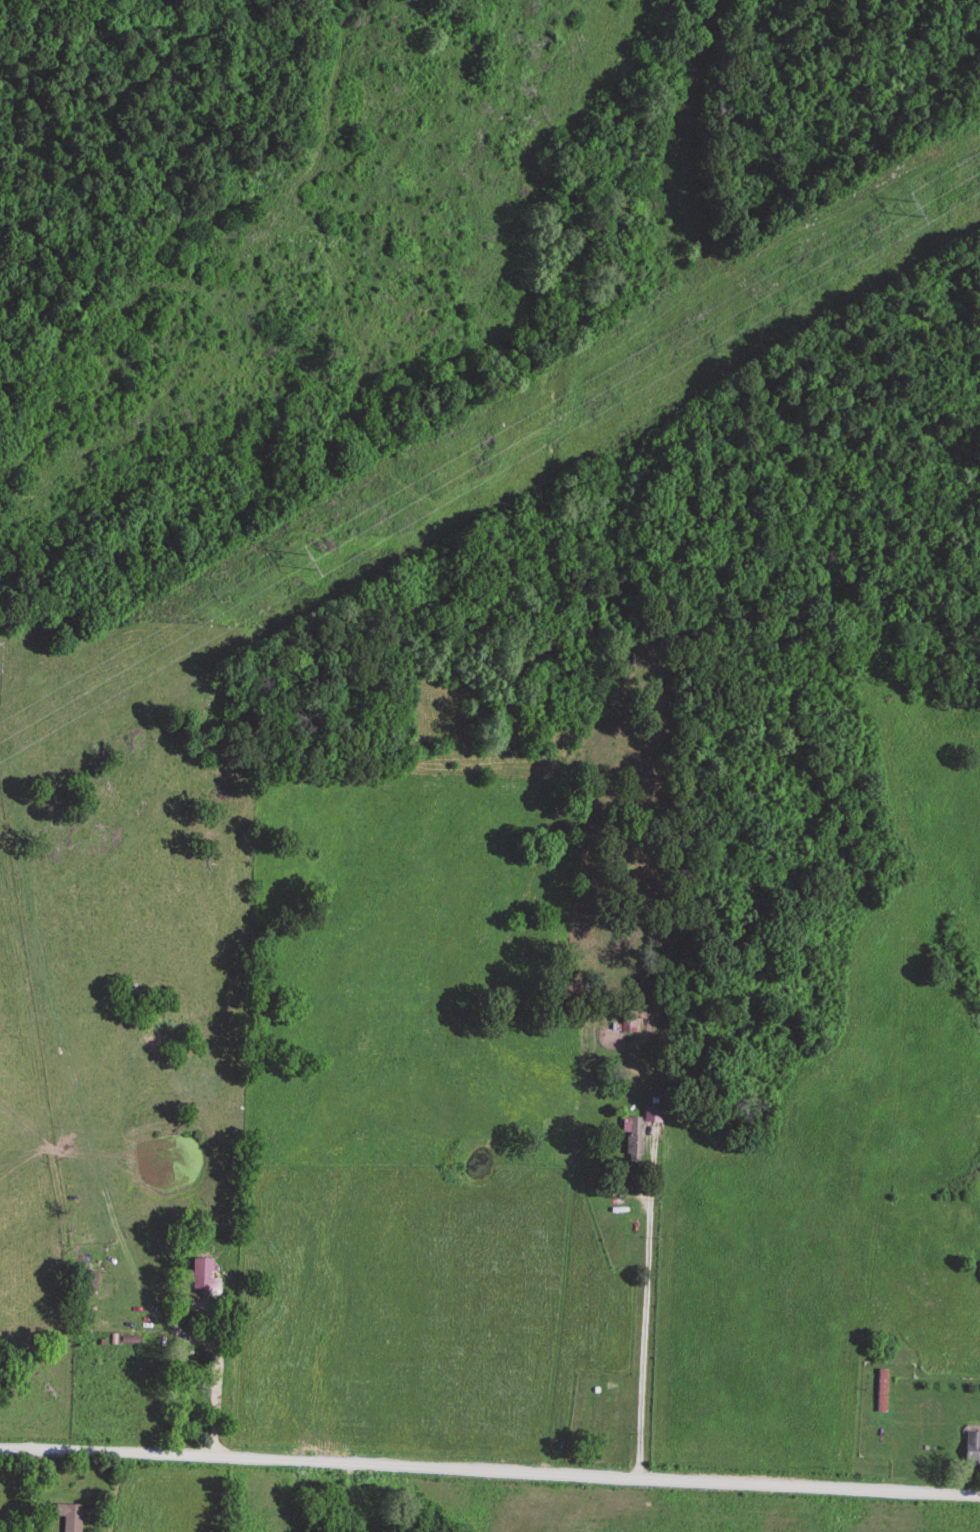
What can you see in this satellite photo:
power tower: (908, 213)
power tower: (303, 564)
building: (642, 1132)
building: (202, 1279)
road: (646, 1335)
building: (123, 1342)
road: (214, 1385)
building: (880, 1391)
building: (971, 1451)
road: (490, 1468)
building: (68, 1517)

